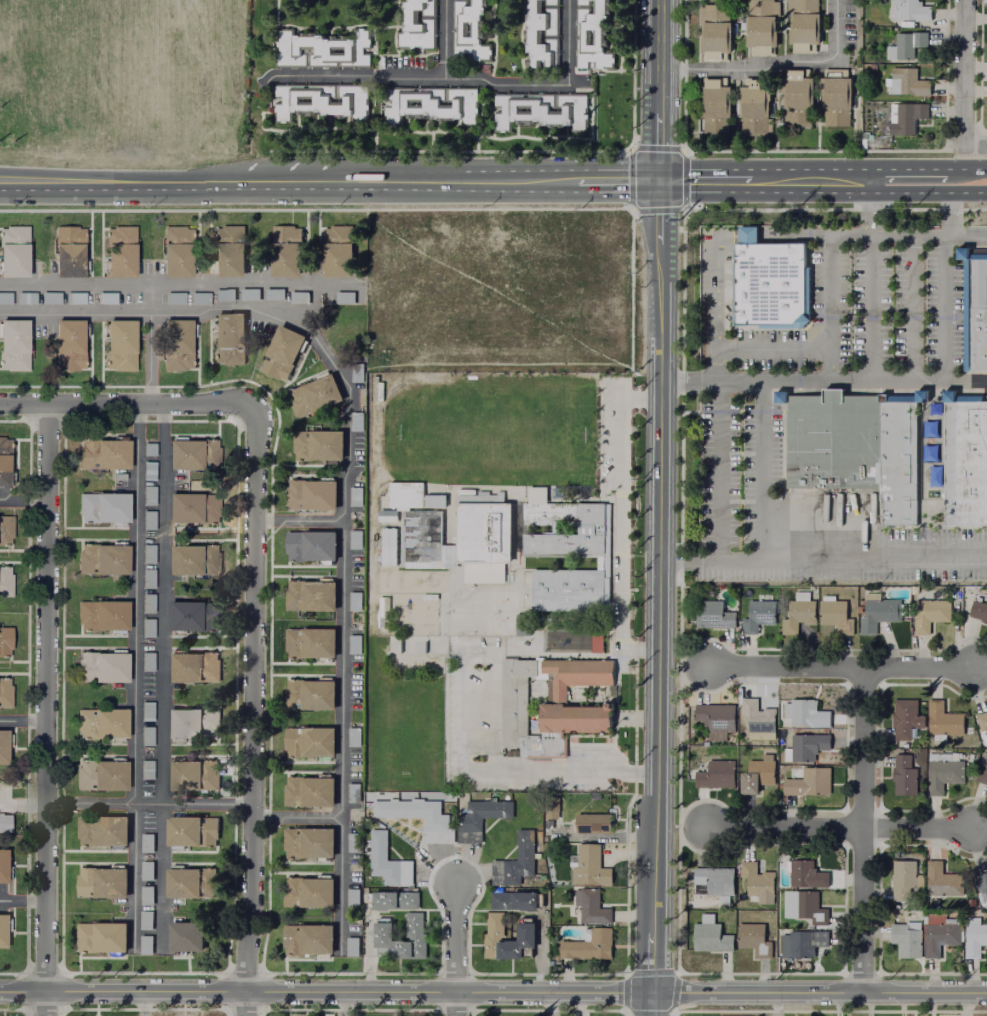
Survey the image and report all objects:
building: (909, 8)
building: (417, 24)
building: (801, 25)
building: (759, 26)
building: (472, 30)
building: (712, 31)
building: (542, 34)
building: (594, 34)
building: (904, 42)
building: (322, 48)
road: (775, 65)
road: (962, 74)
road: (396, 78)
building: (907, 79)
road: (547, 83)
building: (794, 96)
building: (833, 101)
building: (320, 102)
building: (428, 105)
building: (712, 106)
building: (750, 106)
building: (542, 110)
building: (905, 116)
road: (974, 147)
road: (850, 179)
road: (957, 179)
road: (974, 179)
road: (451, 180)
road: (617, 180)
traffic signals: (658, 180)
road: (704, 180)
road: (123, 181)
road: (286, 181)
road: (870, 206)
road: (951, 207)
road: (910, 234)
road: (772, 235)
road: (969, 236)
building: (12, 248)
building: (120, 248)
building: (176, 249)
building: (227, 249)
building: (284, 249)
building: (68, 250)
building: (335, 250)
road: (168, 282)
building: (768, 284)
road: (827, 287)
building: (222, 292)
building: (272, 292)
building: (247, 293)
building: (49, 295)
building: (74, 295)
building: (5, 296)
building: (25, 296)
building: (105, 296)
road: (149, 296)
building: (174, 296)
building: (199, 296)
building: (297, 296)
building: (343, 296)
road: (870, 308)
road: (913, 309)
road: (942, 309)
parking lot: (860, 315)
building: (977, 315)
building: (228, 339)
building: (14, 341)
building: (122, 344)
building: (180, 344)
building: (73, 346)
road: (773, 350)
building: (280, 351)
road: (149, 357)
building: (356, 371)
road: (821, 382)
building: (311, 393)
road: (636, 397)
road: (718, 397)
building: (899, 398)
road: (127, 404)
building: (933, 407)
building: (354, 419)
building: (928, 427)
building: (315, 442)
building: (832, 442)
building: (148, 447)
building: (102, 451)
building: (192, 451)
building: (927, 451)
parking lot: (739, 462)
building: (896, 462)
building: (971, 463)
building: (148, 468)
building: (4, 471)
road: (762, 471)
building: (933, 474)
road: (342, 478)
building: (308, 491)
building: (403, 492)
building: (148, 493)
building: (354, 495)
road: (24, 498)
building: (435, 499)
building: (193, 504)
building: (102, 505)
road: (655, 508)
building: (387, 515)
building: (147, 518)
road: (297, 522)
building: (6, 530)
building: (593, 531)
road: (617, 532)
building: (483, 534)
building: (423, 536)
building: (353, 538)
building: (307, 543)
building: (390, 545)
building: (148, 551)
building: (102, 556)
building: (191, 557)
road: (821, 560)
building: (482, 574)
building: (147, 576)
building: (6, 582)
building: (568, 589)
building: (307, 592)
building: (353, 600)
building: (147, 601)
building: (978, 609)
building: (796, 611)
building: (101, 612)
building: (928, 612)
building: (190, 613)
building: (833, 613)
building: (710, 614)
building: (756, 615)
building: (879, 616)
building: (147, 626)
building: (5, 639)
building: (595, 639)
building: (308, 640)
building: (353, 643)
road: (133, 647)
building: (146, 659)
building: (101, 664)
building: (190, 664)
road: (842, 670)
road: (160, 676)
building: (6, 692)
building: (310, 697)
building: (352, 698)
building: (549, 703)
road: (47, 709)
building: (146, 709)
road: (252, 710)
building: (804, 712)
building: (904, 717)
building: (756, 718)
building: (715, 719)
road: (23, 720)
building: (981, 721)
building: (943, 723)
building: (104, 726)
building: (194, 726)
road: (464, 731)
building: (145, 733)
building: (351, 735)
building: (3, 740)
building: (308, 744)
building: (804, 745)
building: (145, 766)
building: (981, 768)
building: (756, 772)
building: (902, 773)
building: (714, 774)
building: (943, 774)
building: (100, 775)
building: (191, 777)
building: (805, 779)
building: (351, 791)
building: (309, 796)
road: (192, 804)
road: (23, 805)
road: (296, 818)
building: (478, 818)
building: (5, 821)
building: (434, 822)
building: (591, 823)
road: (840, 828)
road: (862, 832)
building: (103, 833)
building: (189, 833)
building: (351, 841)
building: (145, 842)
building: (307, 844)
building: (385, 861)
building: (514, 861)
building: (3, 866)
building: (588, 867)
building: (145, 869)
building: (803, 873)
road: (132, 875)
building: (902, 877)
building: (711, 880)
building: (941, 880)
building: (756, 881)
building: (981, 881)
building: (101, 884)
building: (196, 884)
building: (144, 894)
building: (308, 894)
building: (350, 897)
road: (22, 900)
building: (511, 900)
building: (394, 901)
building: (803, 906)
building: (589, 907)
building: (144, 919)
building: (3, 931)
building: (939, 934)
building: (413, 935)
building: (492, 936)
building: (973, 936)
building: (185, 937)
building: (709, 937)
building: (904, 937)
building: (99, 938)
building: (752, 938)
building: (308, 940)
building: (801, 942)
building: (145, 943)
building: (350, 945)
building: (587, 946)
road: (455, 949)
road: (493, 993)
road: (142, 1004)
road: (340, 1004)
road: (548, 1004)
road: (775, 1004)

